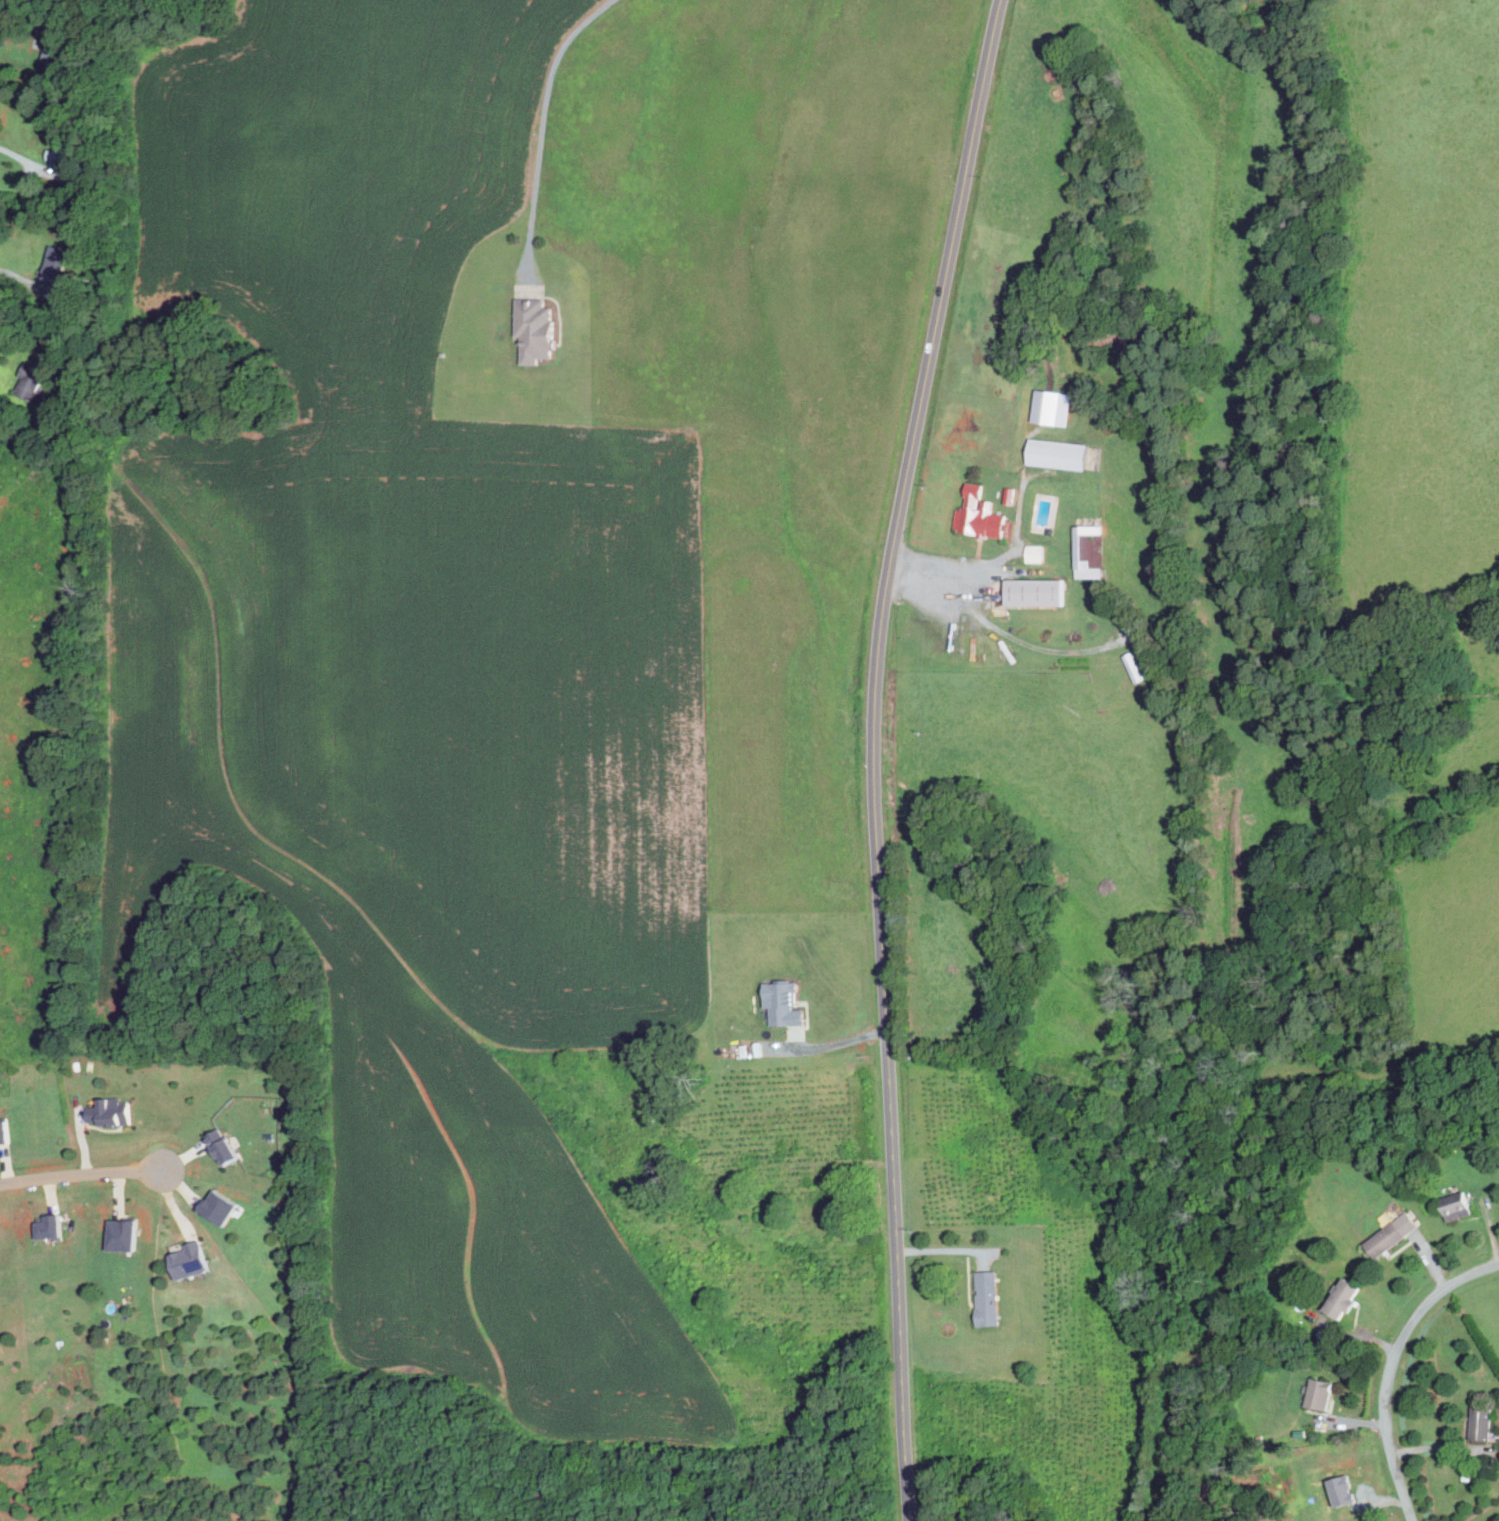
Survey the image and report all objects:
building: (55, 46)
road: (547, 124)
building: (63, 152)
building: (54, 265)
building: (502, 287)
building: (535, 330)
road: (16, 338)
building: (443, 353)
building: (34, 378)
building: (1047, 407)
building: (1059, 454)
building: (1010, 495)
building: (980, 514)
building: (1090, 551)
building: (1036, 553)
road: (1001, 557)
building: (1036, 593)
road: (1002, 630)
building: (1151, 665)
building: (1134, 667)
road: (876, 755)
building: (784, 1004)
road: (839, 1043)
building: (108, 1112)
building: (3, 1132)
building: (222, 1146)
building: (695, 1150)
building: (742, 1157)
road: (79, 1176)
building: (819, 1199)
building: (1456, 1205)
building: (216, 1206)
building: (47, 1226)
building: (120, 1233)
building: (1393, 1234)
road: (945, 1249)
building: (190, 1259)
building: (988, 1297)
building: (1345, 1297)
road: (1392, 1368)
building: (1321, 1393)
building: (1483, 1422)
road: (1439, 1445)
building: (1493, 1452)
building: (1482, 1463)
building: (1494, 1465)
building: (1468, 1473)
building: (1340, 1490)

